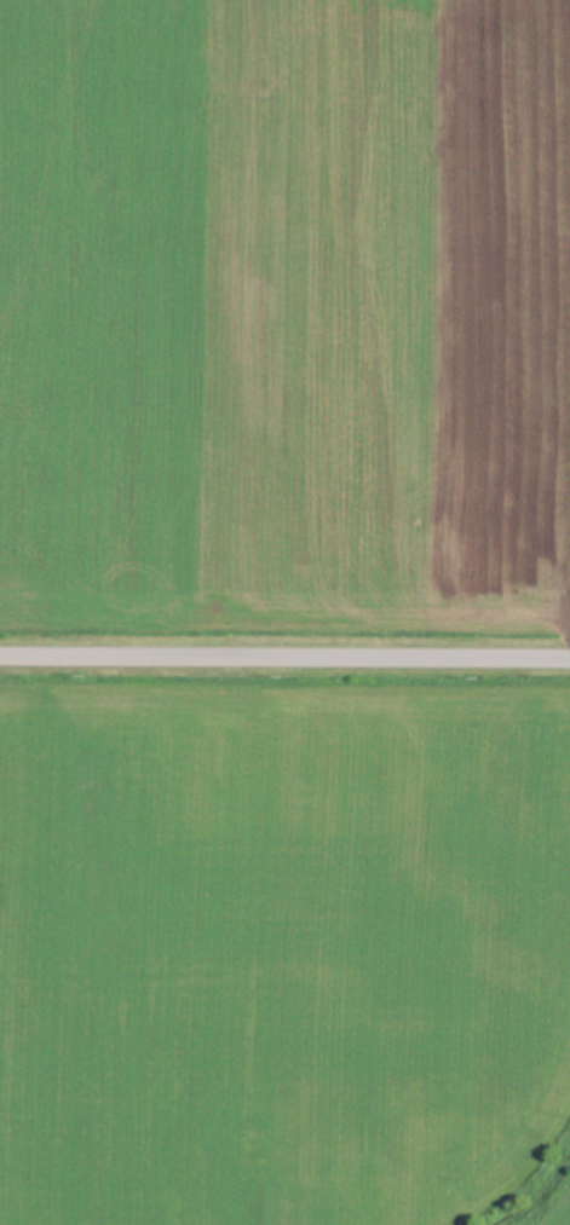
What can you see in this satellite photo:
road: (284, 653)

